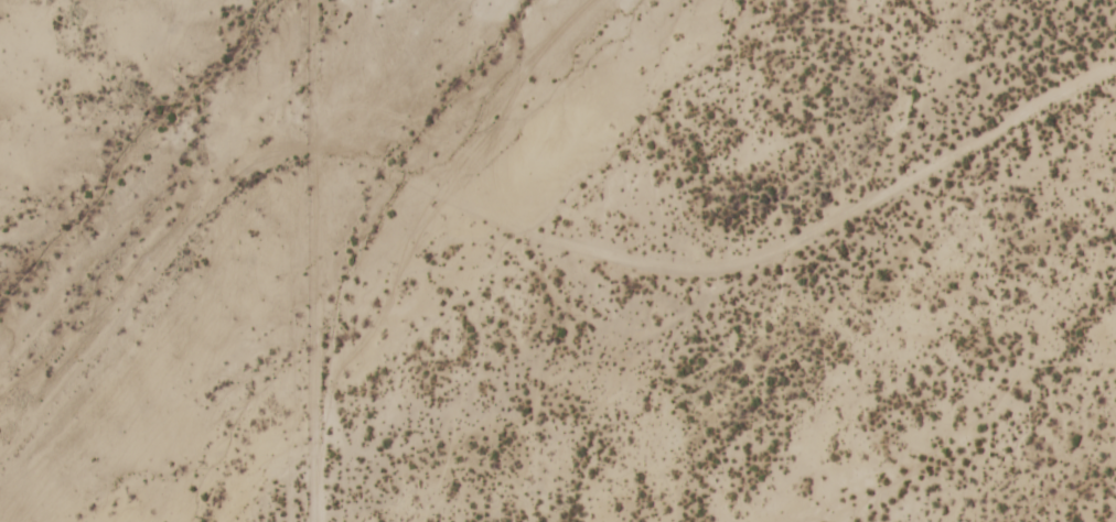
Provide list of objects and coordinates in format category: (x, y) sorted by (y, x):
road: (502, 93)
road: (314, 261)
road: (728, 265)
road: (138, 269)

